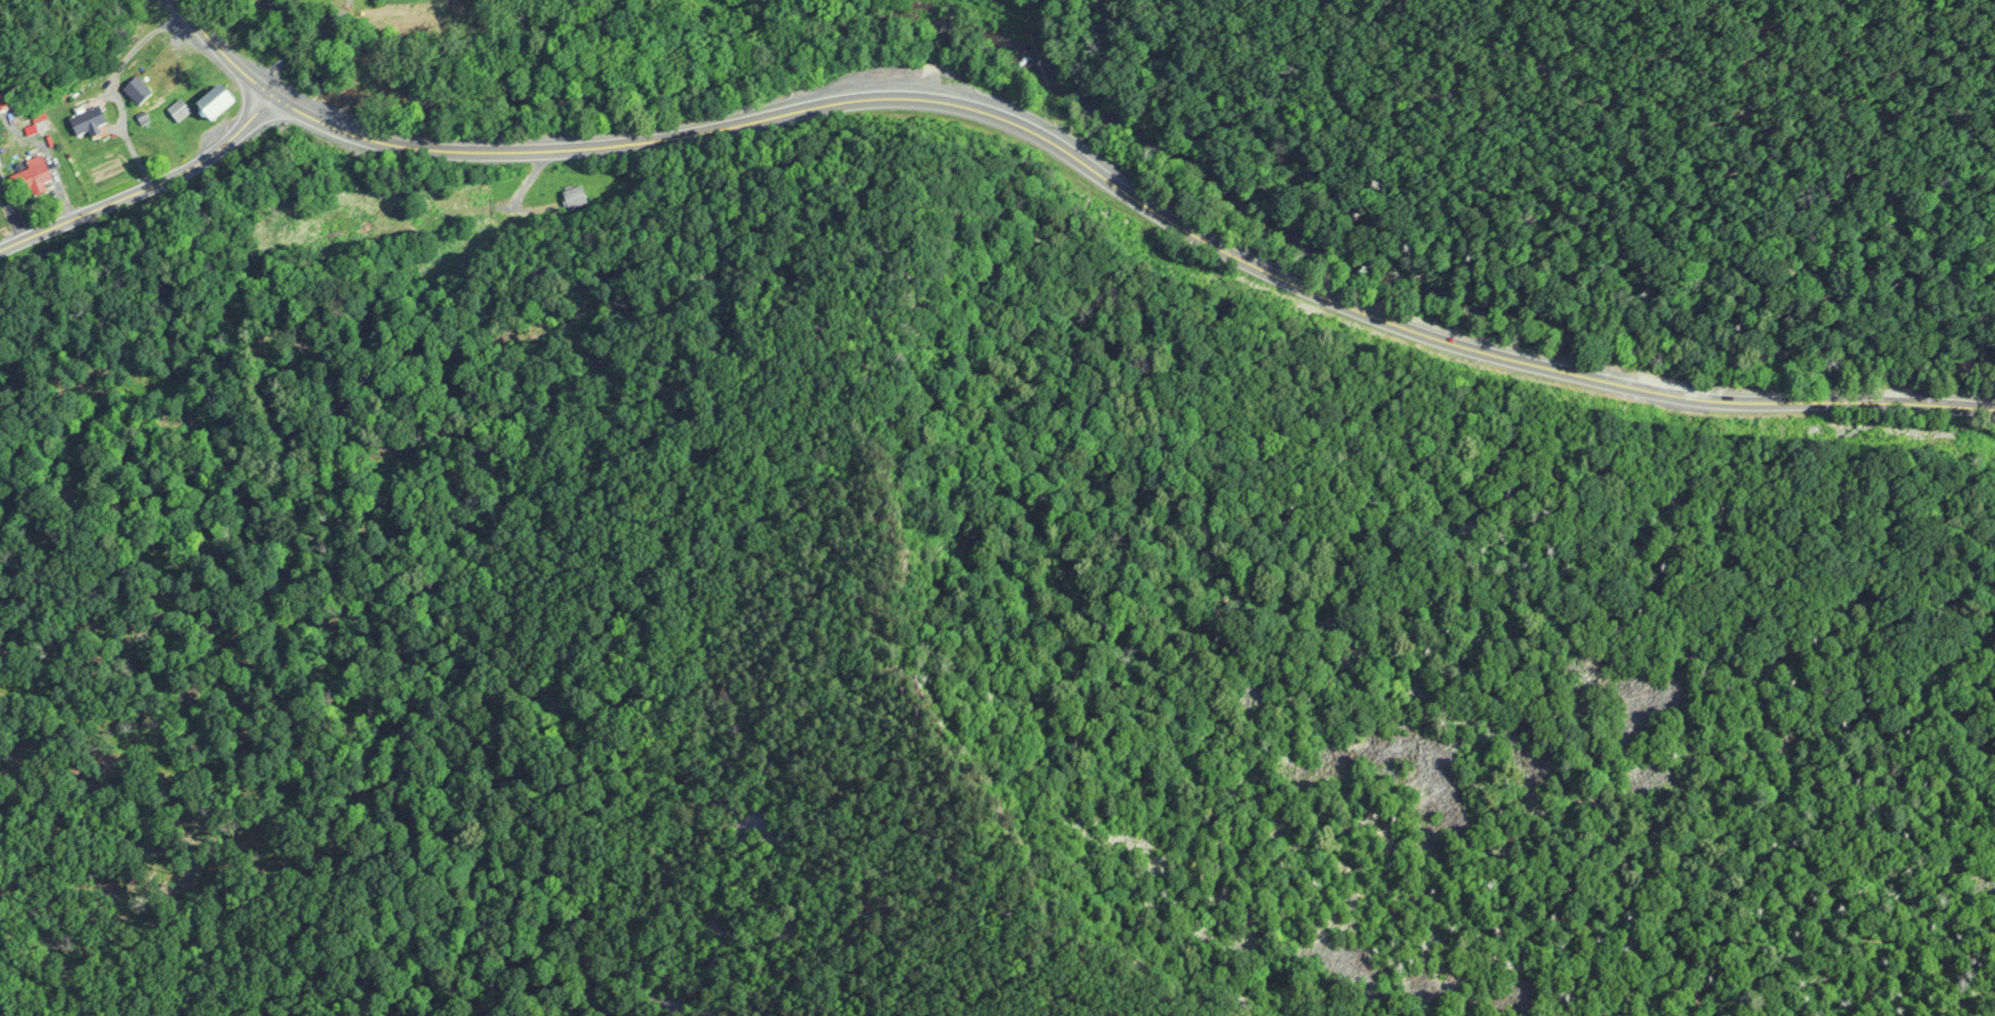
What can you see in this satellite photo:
road: (219, 50)
building: (138, 92)
building: (216, 103)
building: (179, 110)
building: (89, 123)
building: (32, 175)
road: (146, 188)
road: (1132, 196)

